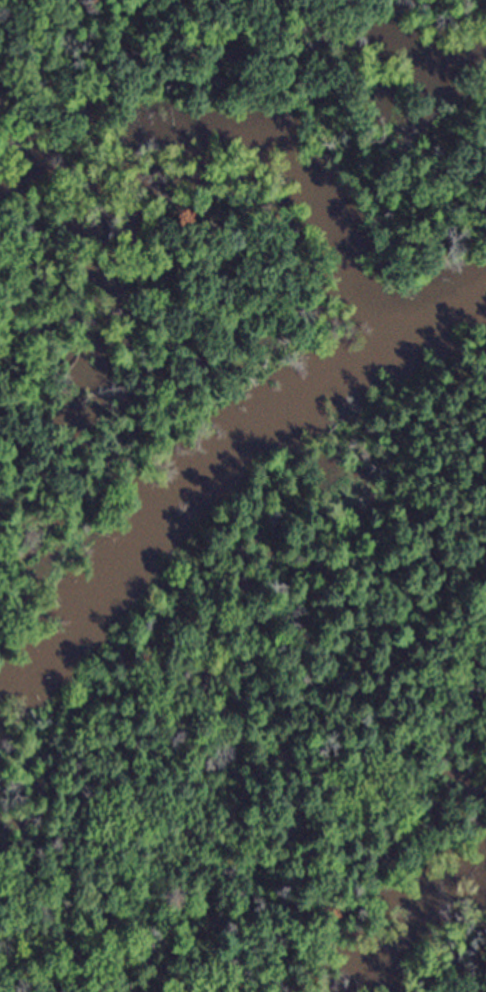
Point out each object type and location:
river: (220, 469)

